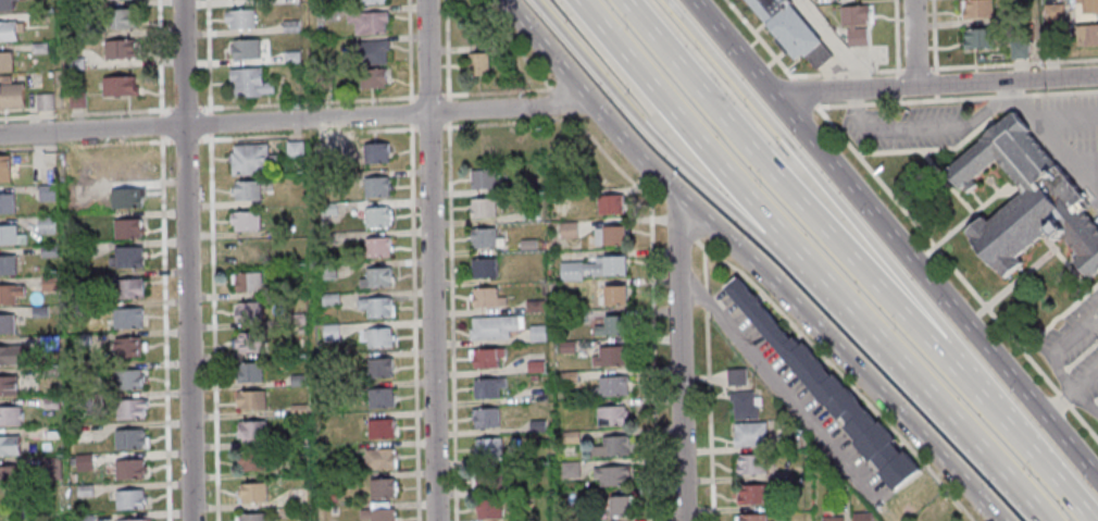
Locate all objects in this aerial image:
building: (112, 0)
building: (239, 0)
building: (367, 2)
building: (73, 3)
building: (5, 5)
building: (978, 9)
building: (1086, 10)
building: (37, 17)
building: (118, 21)
building: (240, 21)
building: (367, 24)
building: (857, 26)
building: (289, 27)
building: (790, 30)
building: (76, 32)
building: (8, 33)
building: (1087, 34)
building: (978, 38)
road: (913, 44)
road: (838, 45)
building: (38, 48)
building: (120, 50)
building: (245, 50)
building: (369, 54)
building: (291, 59)
building: (5, 63)
building: (75, 64)
building: (477, 65)
building: (372, 79)
building: (323, 80)
building: (249, 85)
road: (935, 85)
building: (121, 86)
building: (11, 96)
building: (76, 101)
building: (43, 103)
road: (858, 109)
road: (1041, 114)
road: (296, 120)
road: (939, 126)
road: (648, 129)
road: (312, 134)
building: (292, 149)
building: (373, 151)
road: (1063, 151)
building: (250, 159)
building: (3, 168)
road: (1084, 175)
building: (481, 177)
road: (812, 179)
building: (326, 183)
building: (374, 186)
road: (778, 186)
building: (245, 189)
building: (46, 193)
building: (1023, 196)
building: (125, 197)
building: (5, 202)
building: (608, 203)
building: (481, 207)
building: (327, 210)
building: (529, 214)
building: (375, 216)
building: (244, 220)
building: (43, 225)
building: (125, 228)
building: (566, 231)
building: (10, 235)
building: (608, 235)
building: (483, 237)
building: (325, 239)
road: (896, 239)
road: (648, 243)
building: (526, 245)
building: (375, 246)
building: (79, 250)
building: (245, 250)
building: (47, 251)
road: (161, 251)
building: (124, 257)
road: (186, 260)
road: (429, 260)
road: (799, 260)
road: (749, 262)
building: (7, 264)
building: (481, 268)
building: (590, 268)
building: (325, 271)
building: (374, 277)
building: (78, 280)
road: (749, 280)
building: (247, 282)
building: (48, 283)
building: (127, 286)
building: (10, 293)
building: (611, 295)
building: (485, 298)
building: (328, 299)
building: (374, 306)
building: (533, 306)
building: (80, 309)
building: (38, 311)
building: (247, 311)
building: (577, 317)
building: (126, 318)
building: (296, 320)
building: (5, 322)
road: (450, 324)
building: (610, 325)
building: (490, 327)
building: (328, 333)
building: (536, 333)
road: (1075, 333)
building: (377, 337)
building: (80, 339)
building: (248, 342)
building: (48, 343)
building: (125, 346)
building: (565, 347)
building: (9, 355)
building: (609, 356)
building: (485, 357)
road: (679, 357)
building: (377, 367)
building: (533, 367)
building: (49, 372)
building: (247, 372)
building: (735, 376)
building: (566, 377)
building: (126, 379)
building: (532, 379)
building: (296, 380)
building: (7, 385)
building: (609, 386)
building: (485, 387)
road: (777, 387)
road: (1070, 387)
building: (828, 393)
road: (1071, 393)
building: (378, 397)
parking lot: (794, 397)
building: (249, 399)
building: (50, 402)
building: (80, 402)
building: (741, 405)
building: (128, 408)
building: (297, 410)
building: (10, 415)
building: (609, 415)
building: (483, 417)
road: (1003, 421)
building: (536, 426)
building: (379, 427)
building: (250, 430)
building: (50, 433)
building: (748, 434)
building: (569, 436)
building: (127, 438)
building: (9, 445)
building: (609, 446)
building: (486, 447)
building: (378, 457)
building: (250, 459)
building: (750, 463)
building: (127, 468)
building: (51, 469)
building: (569, 470)
building: (9, 474)
building: (610, 474)
building: (487, 477)
building: (379, 487)
building: (83, 491)
building: (251, 492)
building: (297, 493)
building: (751, 494)
building: (126, 498)
building: (332, 498)
road: (1069, 499)
building: (617, 504)
building: (487, 508)
building: (332, 510)
building: (376, 512)
building: (248, 517)
building: (750, 517)
building: (860, 517)
building: (84, 518)
building: (134, 519)
building: (831, 519)

